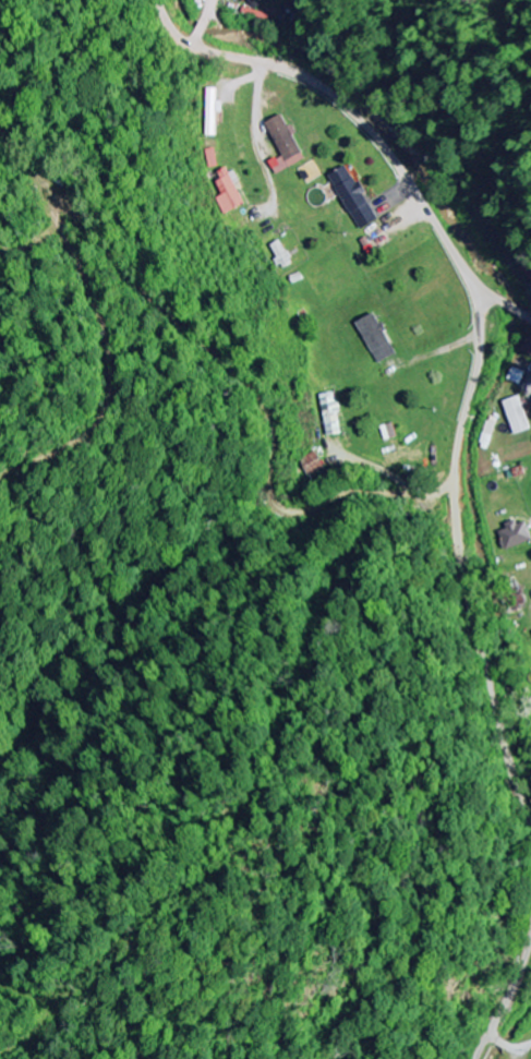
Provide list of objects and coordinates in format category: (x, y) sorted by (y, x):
building: (213, 112)
road: (366, 128)
building: (286, 146)
building: (228, 194)
building: (355, 200)
building: (281, 255)
building: (378, 338)
building: (528, 348)
building: (518, 377)
building: (333, 414)
building: (519, 416)
building: (517, 535)
road: (458, 552)
road: (506, 997)

